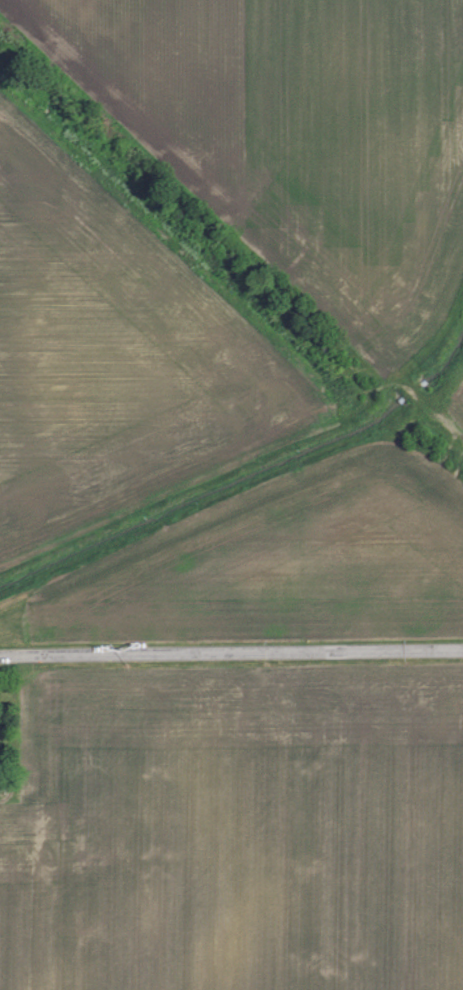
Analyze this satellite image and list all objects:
road: (231, 661)

